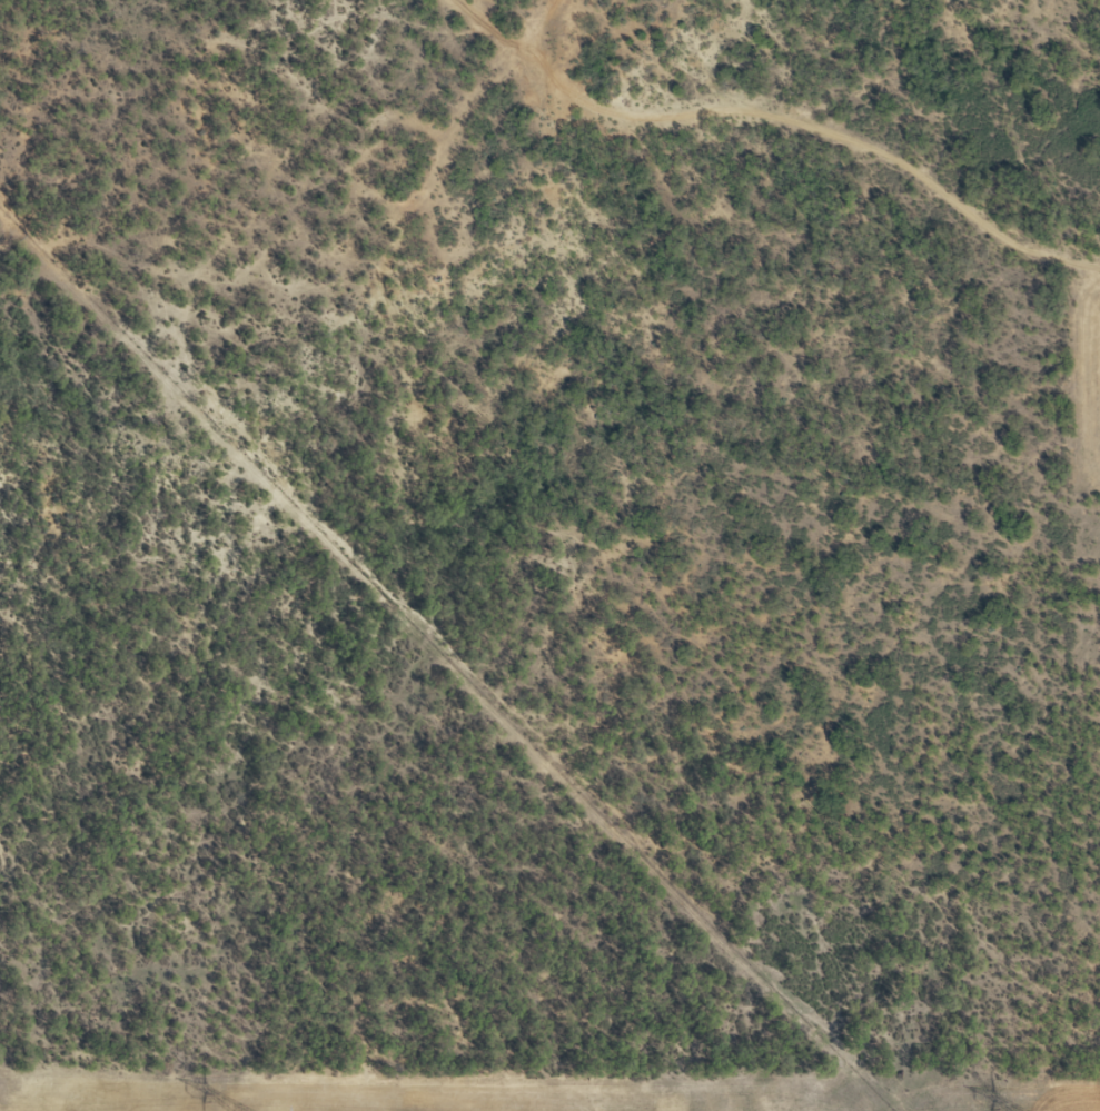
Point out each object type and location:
road: (772, 195)

